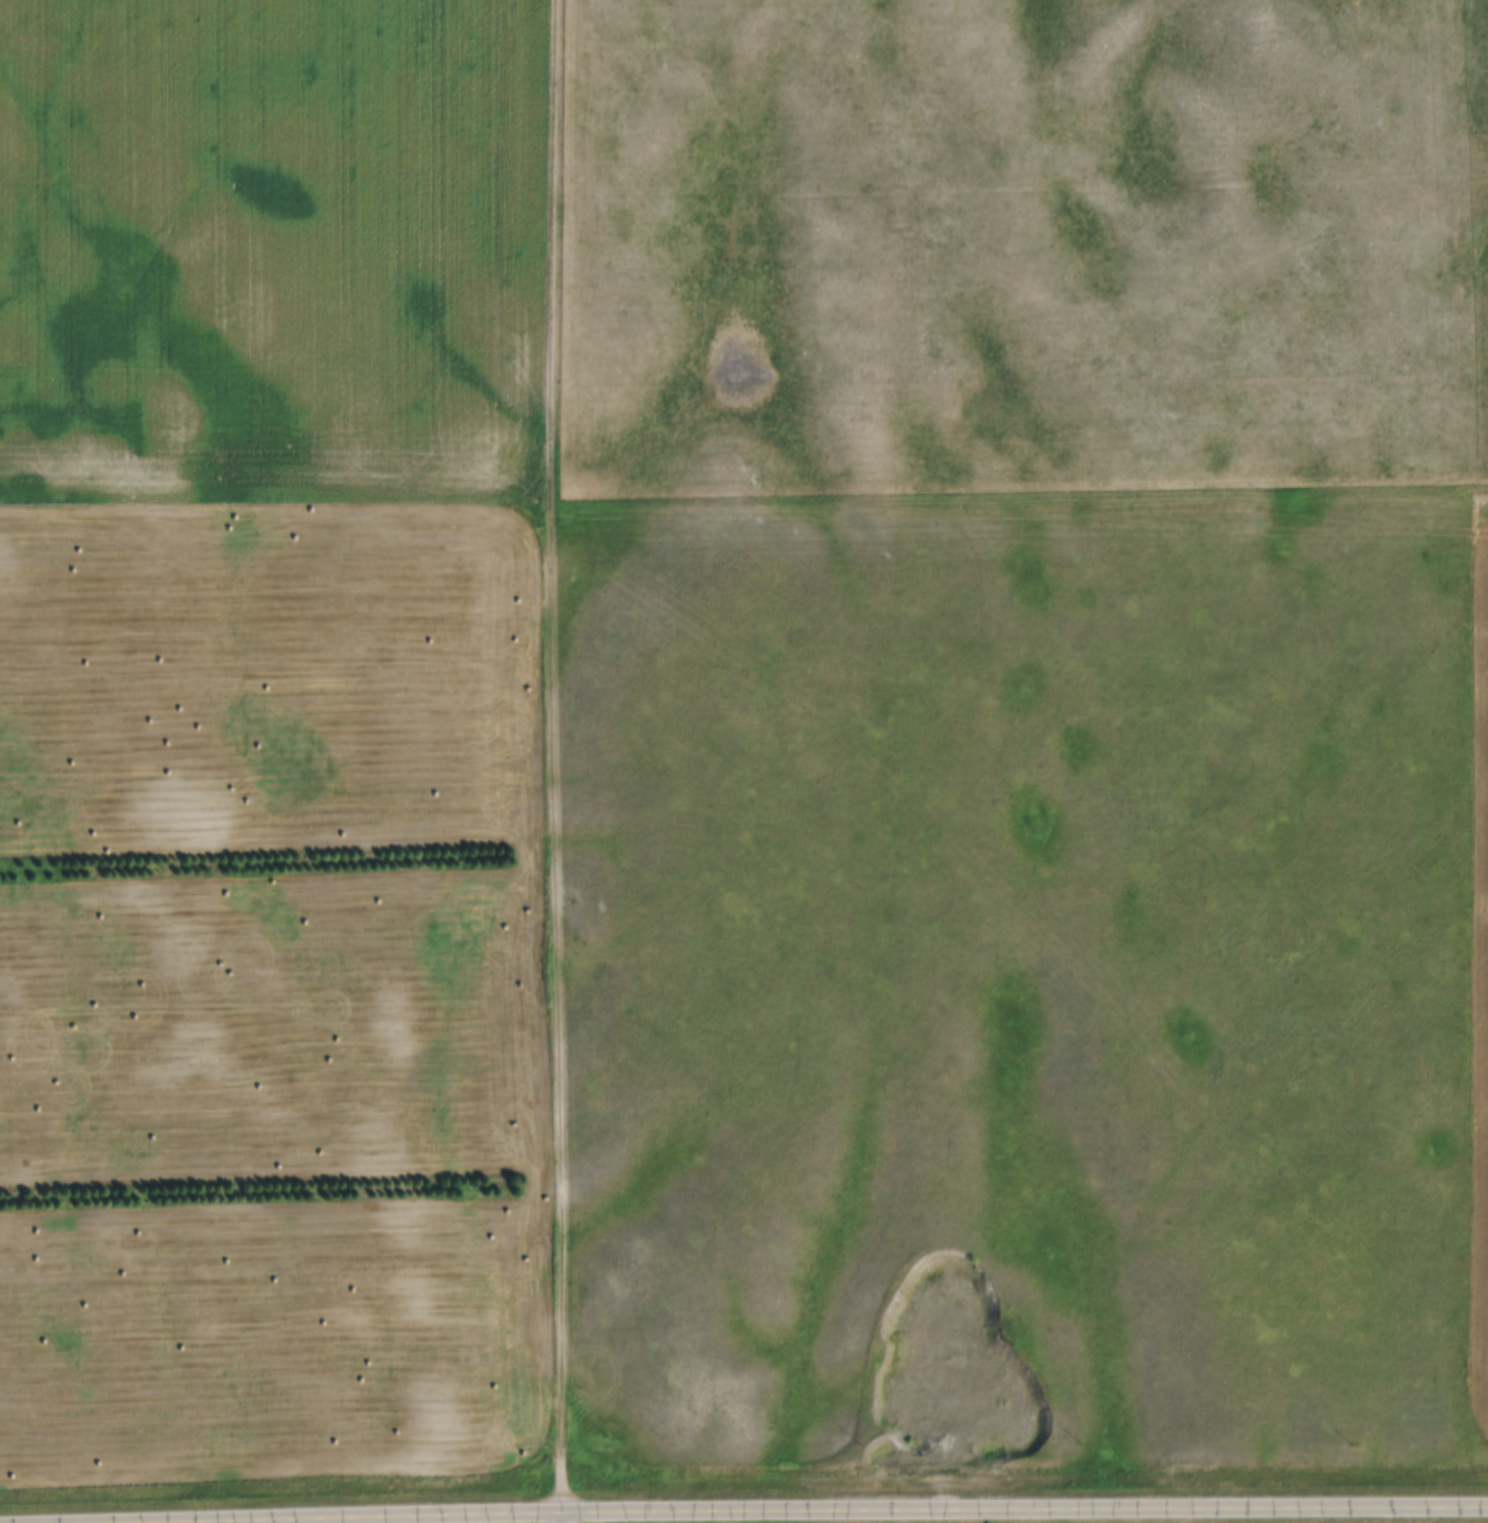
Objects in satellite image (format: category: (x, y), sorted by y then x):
road: (551, 754)
road: (743, 1507)
road: (560, 1516)

